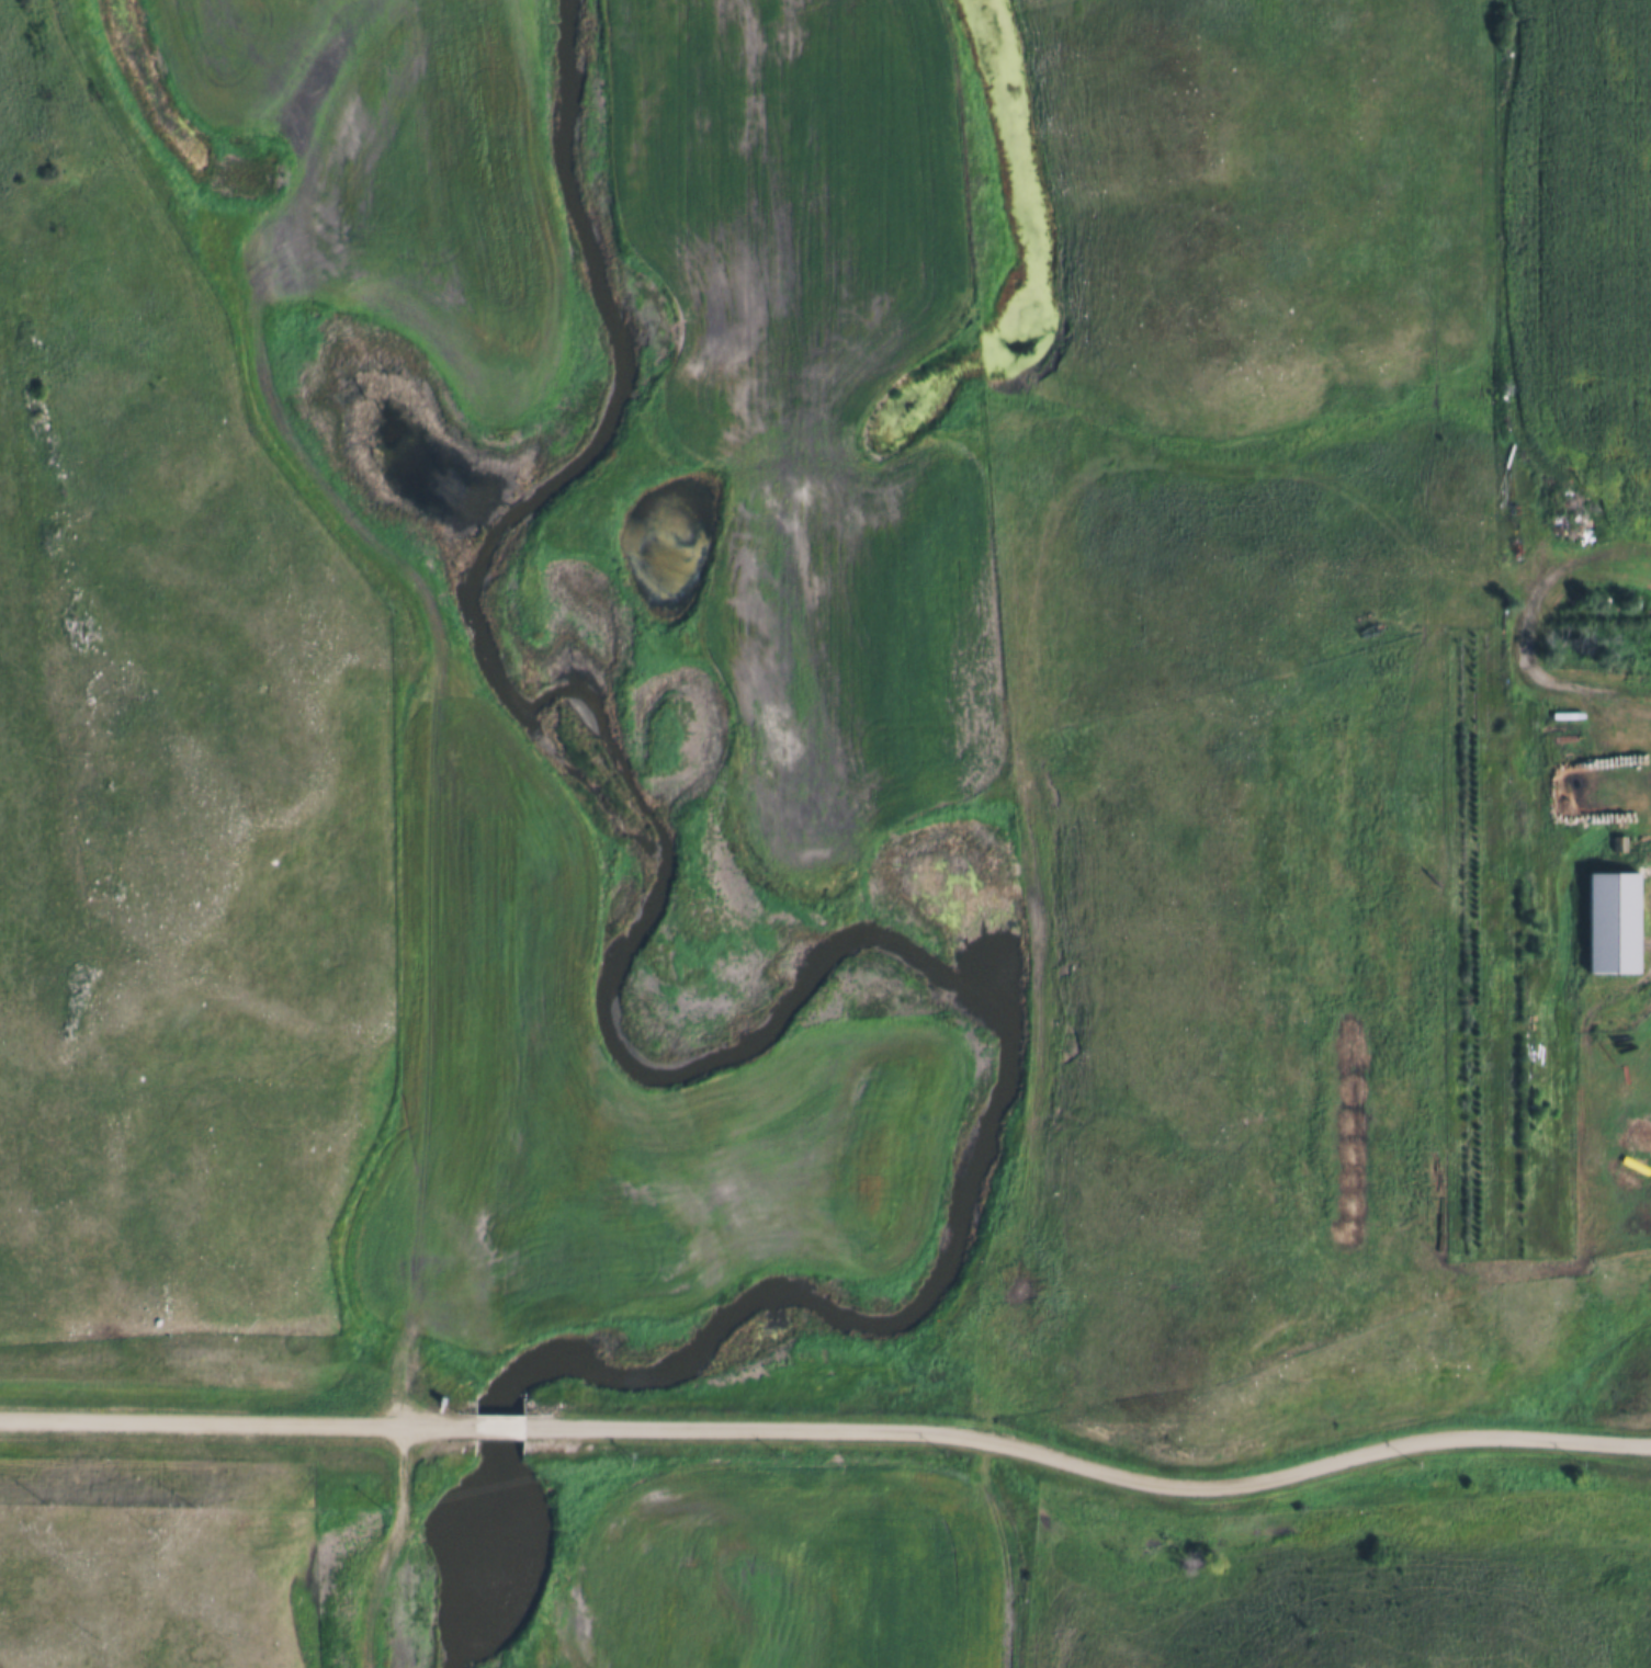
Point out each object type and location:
road: (1526, 628)
river: (778, 1003)
road: (237, 1420)
road: (498, 1426)
road: (1088, 1462)
road: (376, 1545)

